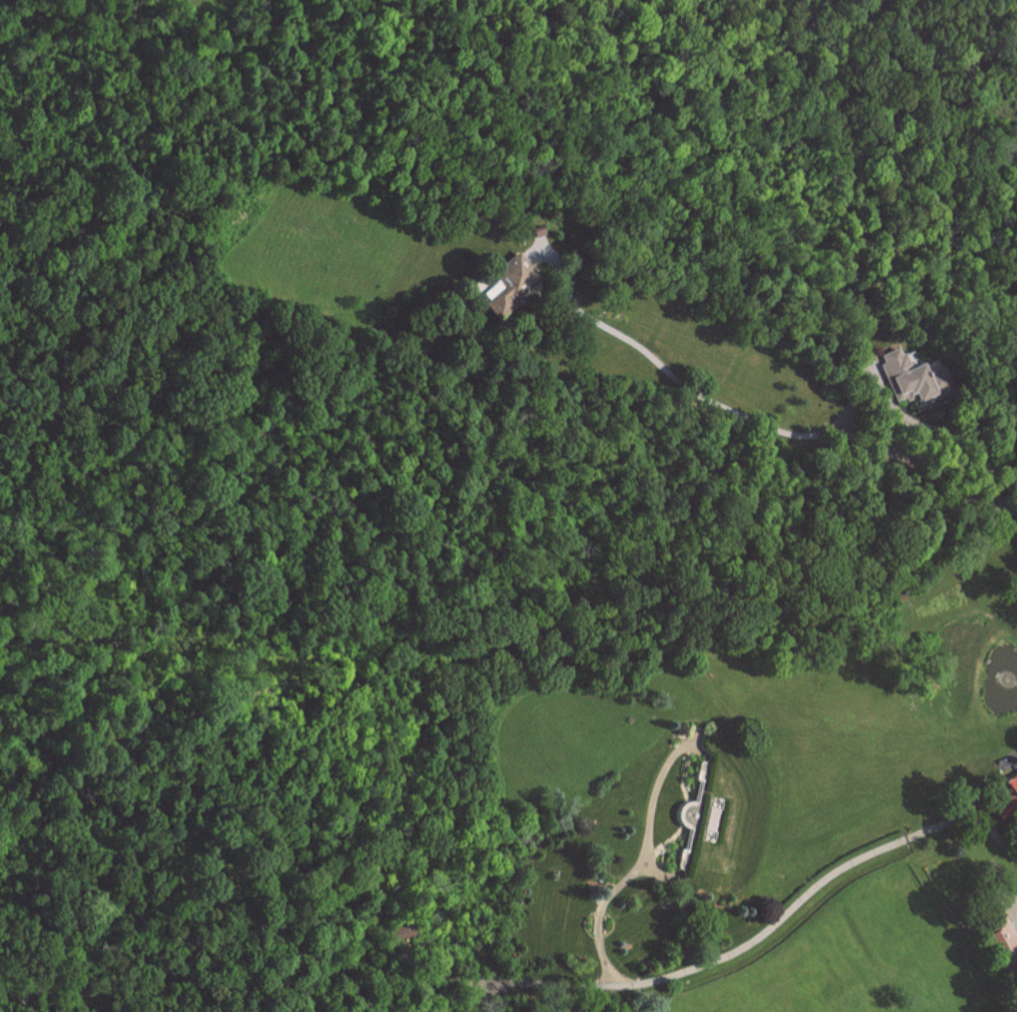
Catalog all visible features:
building: (511, 284)
building: (912, 379)
road: (750, 419)
road: (934, 430)
building: (1013, 791)
road: (996, 835)
road: (640, 862)
building: (1007, 940)
road: (712, 959)

